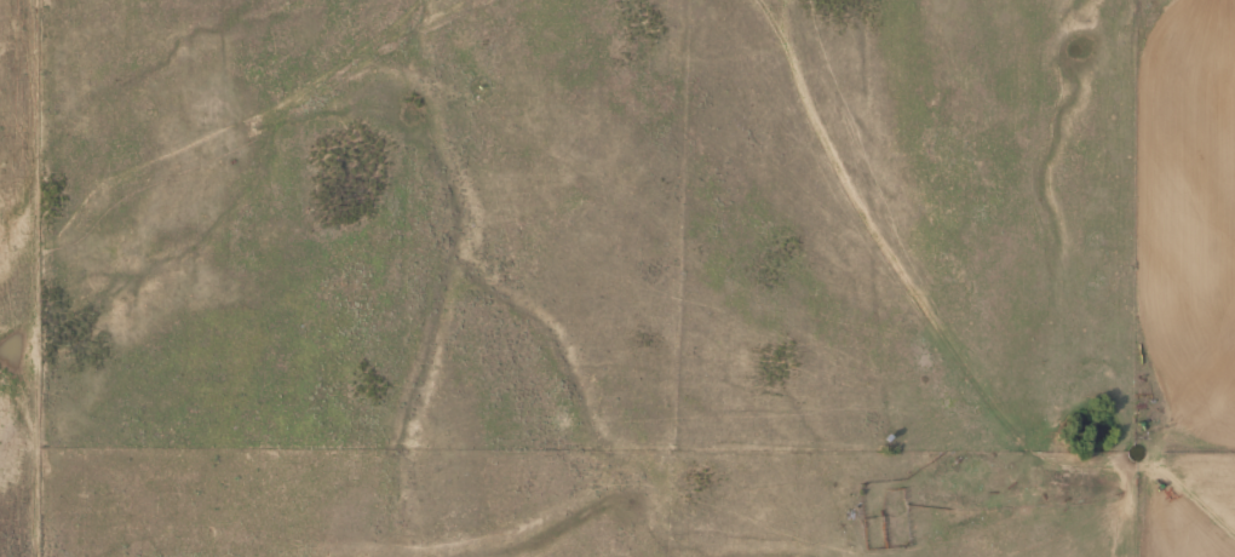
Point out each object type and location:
road: (1208, 533)

